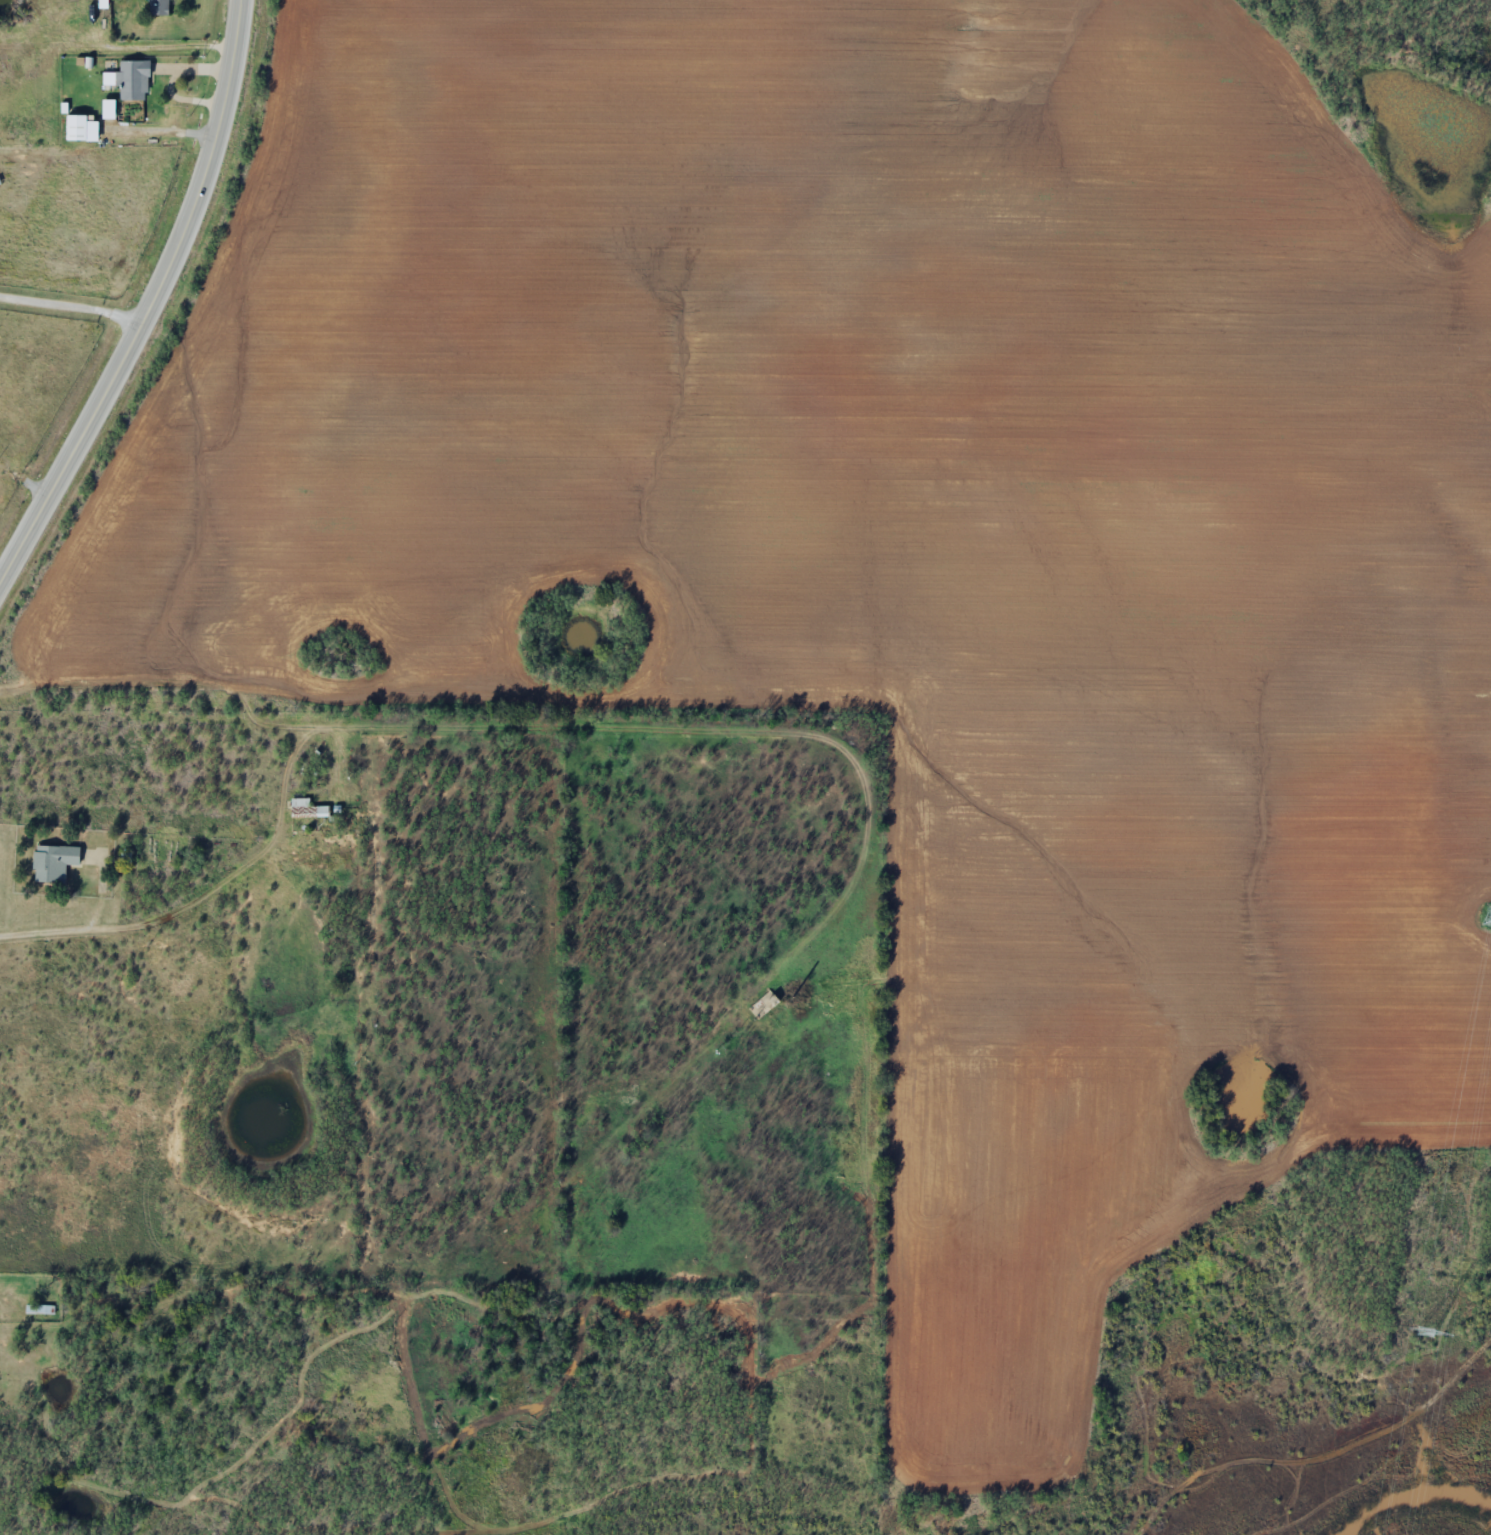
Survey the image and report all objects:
building: (102, 3)
building: (157, 7)
building: (130, 80)
building: (75, 128)
road: (153, 302)
building: (307, 807)
building: (52, 863)
building: (39, 1308)

